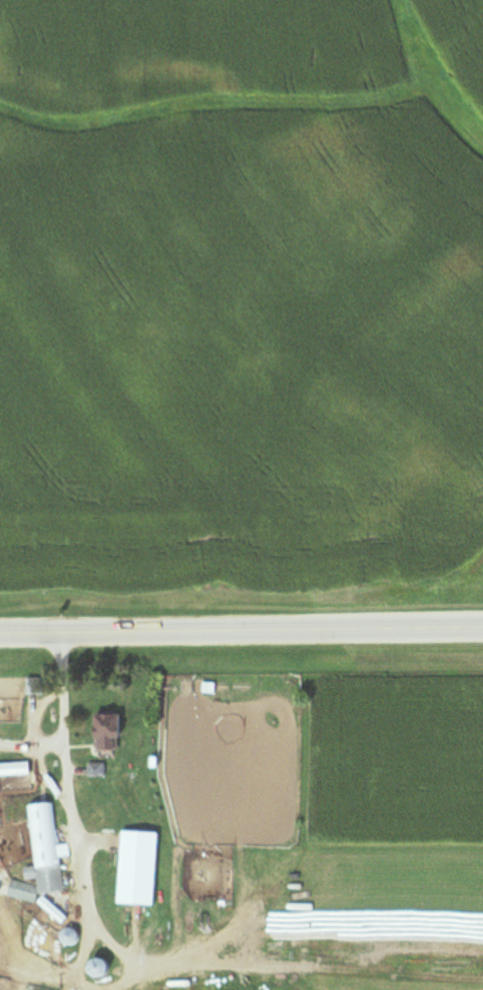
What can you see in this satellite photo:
road: (241, 630)
building: (105, 731)
building: (14, 769)
building: (96, 769)
building: (43, 856)
building: (137, 867)
building: (68, 936)
building: (96, 966)
building: (203, 989)

